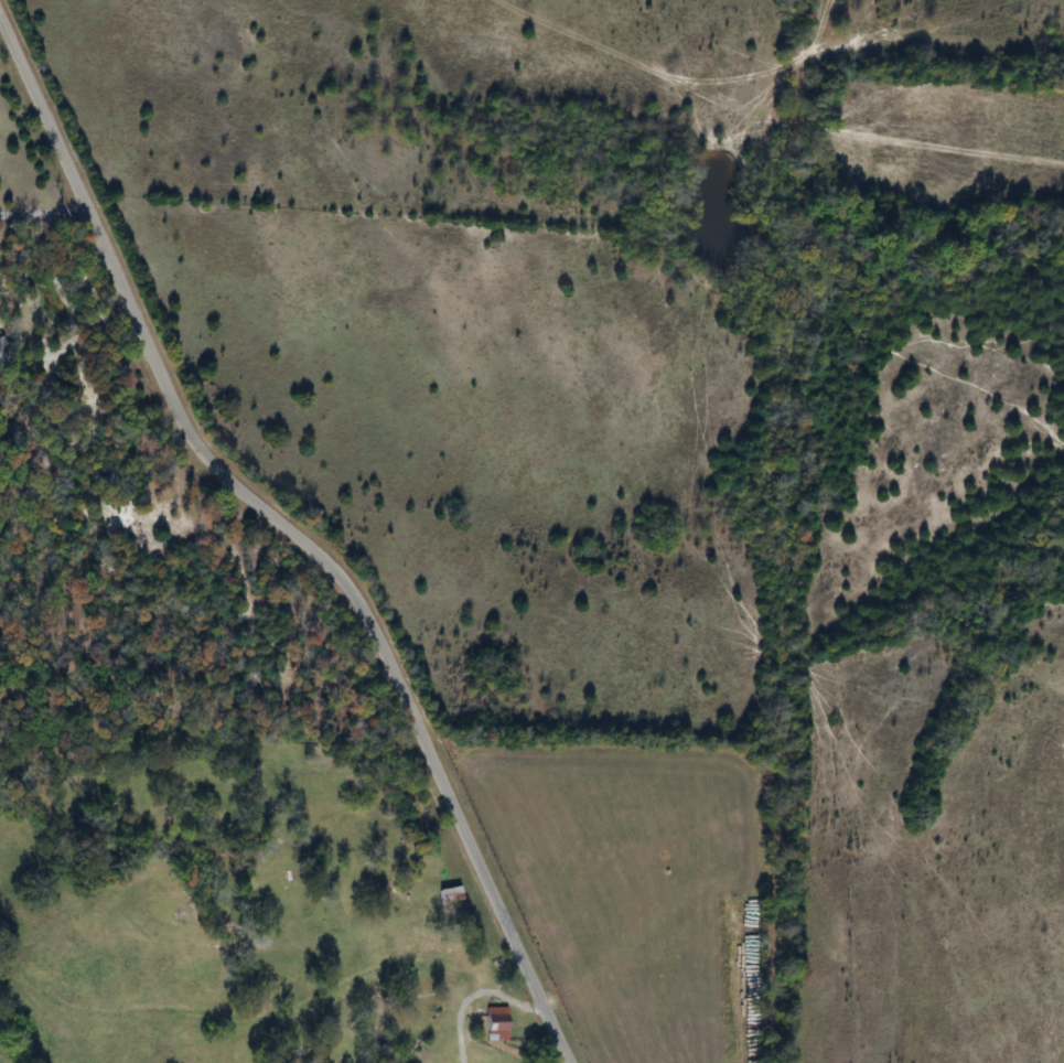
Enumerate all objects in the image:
road: (41, 211)
road: (295, 535)
building: (449, 894)
building: (494, 1024)

